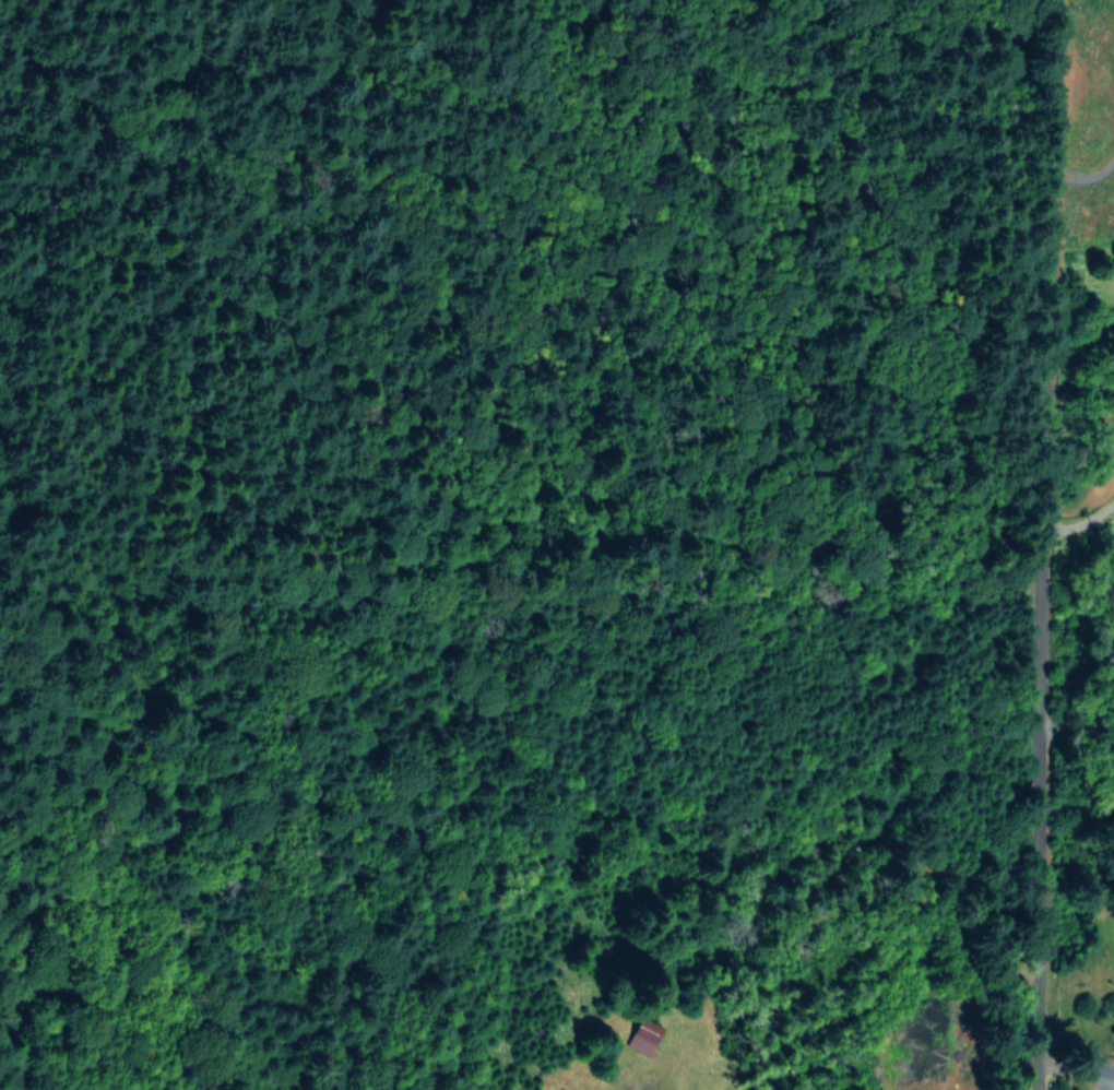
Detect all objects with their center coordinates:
road: (1085, 176)
road: (1041, 545)
building: (641, 1035)

